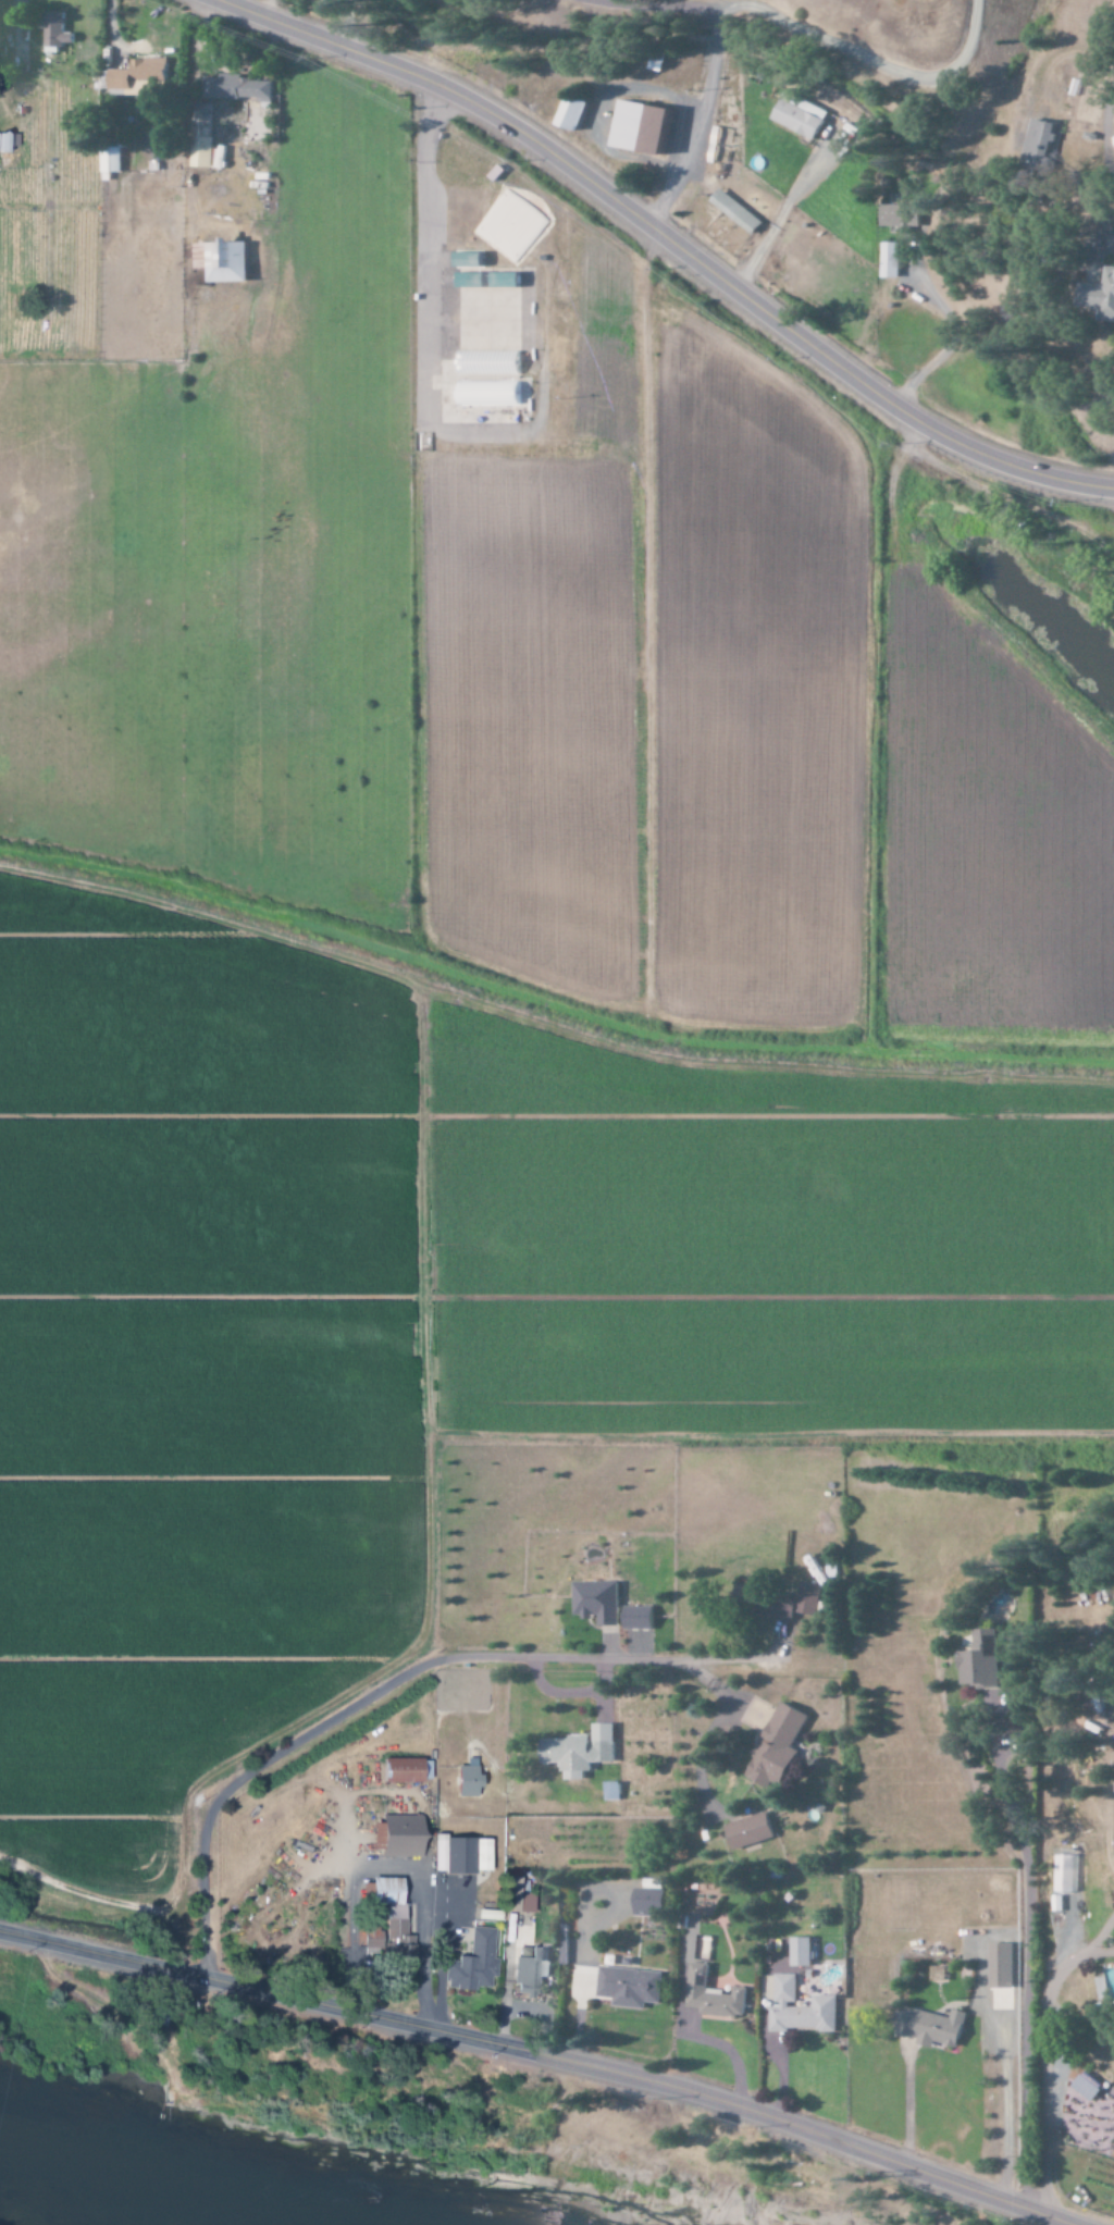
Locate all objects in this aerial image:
building: (58, 30)
building: (238, 88)
building: (574, 114)
building: (800, 115)
building: (643, 127)
building: (202, 135)
building: (9, 143)
building: (1042, 146)
building: (111, 164)
road: (1107, 171)
building: (738, 211)
building: (903, 217)
road: (669, 242)
building: (499, 245)
building: (470, 260)
building: (223, 261)
building: (891, 261)
building: (1102, 296)
building: (490, 363)
building: (490, 394)
crop: (487, 978)
building: (782, 1600)
building: (598, 1602)
building: (640, 1618)
building: (981, 1660)
building: (780, 1748)
building: (581, 1752)
building: (406, 1770)
building: (470, 1779)
building: (612, 1791)
building: (751, 1831)
building: (400, 1837)
building: (463, 1855)
building: (1066, 1872)
building: (518, 1898)
building: (652, 1903)
building: (392, 1920)
building: (802, 1952)
building: (474, 1964)
building: (1001, 1965)
building: (532, 1973)
building: (1107, 1982)
building: (631, 1987)
building: (715, 1995)
building: (802, 2010)
building: (932, 2028)
road: (541, 2055)
river: (261, 2191)

